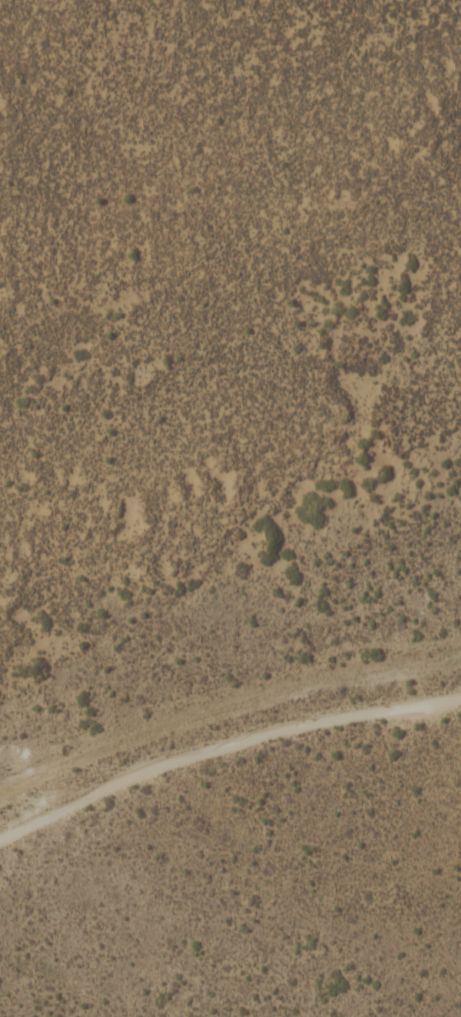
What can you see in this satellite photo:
road: (230, 722)

